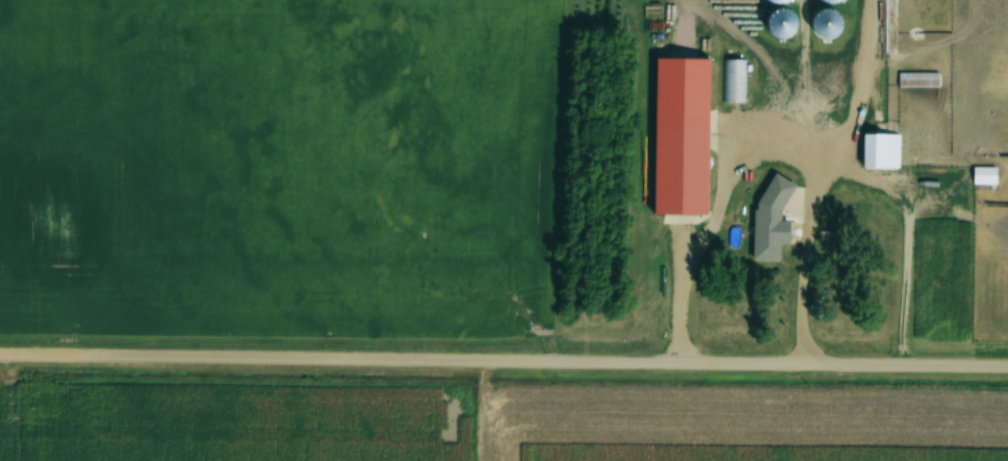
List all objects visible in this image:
building: (781, 23)
building: (823, 23)
building: (918, 79)
building: (734, 81)
building: (681, 123)
building: (879, 151)
road: (762, 159)
building: (983, 175)
building: (772, 229)
road: (503, 359)
crop: (740, 424)

